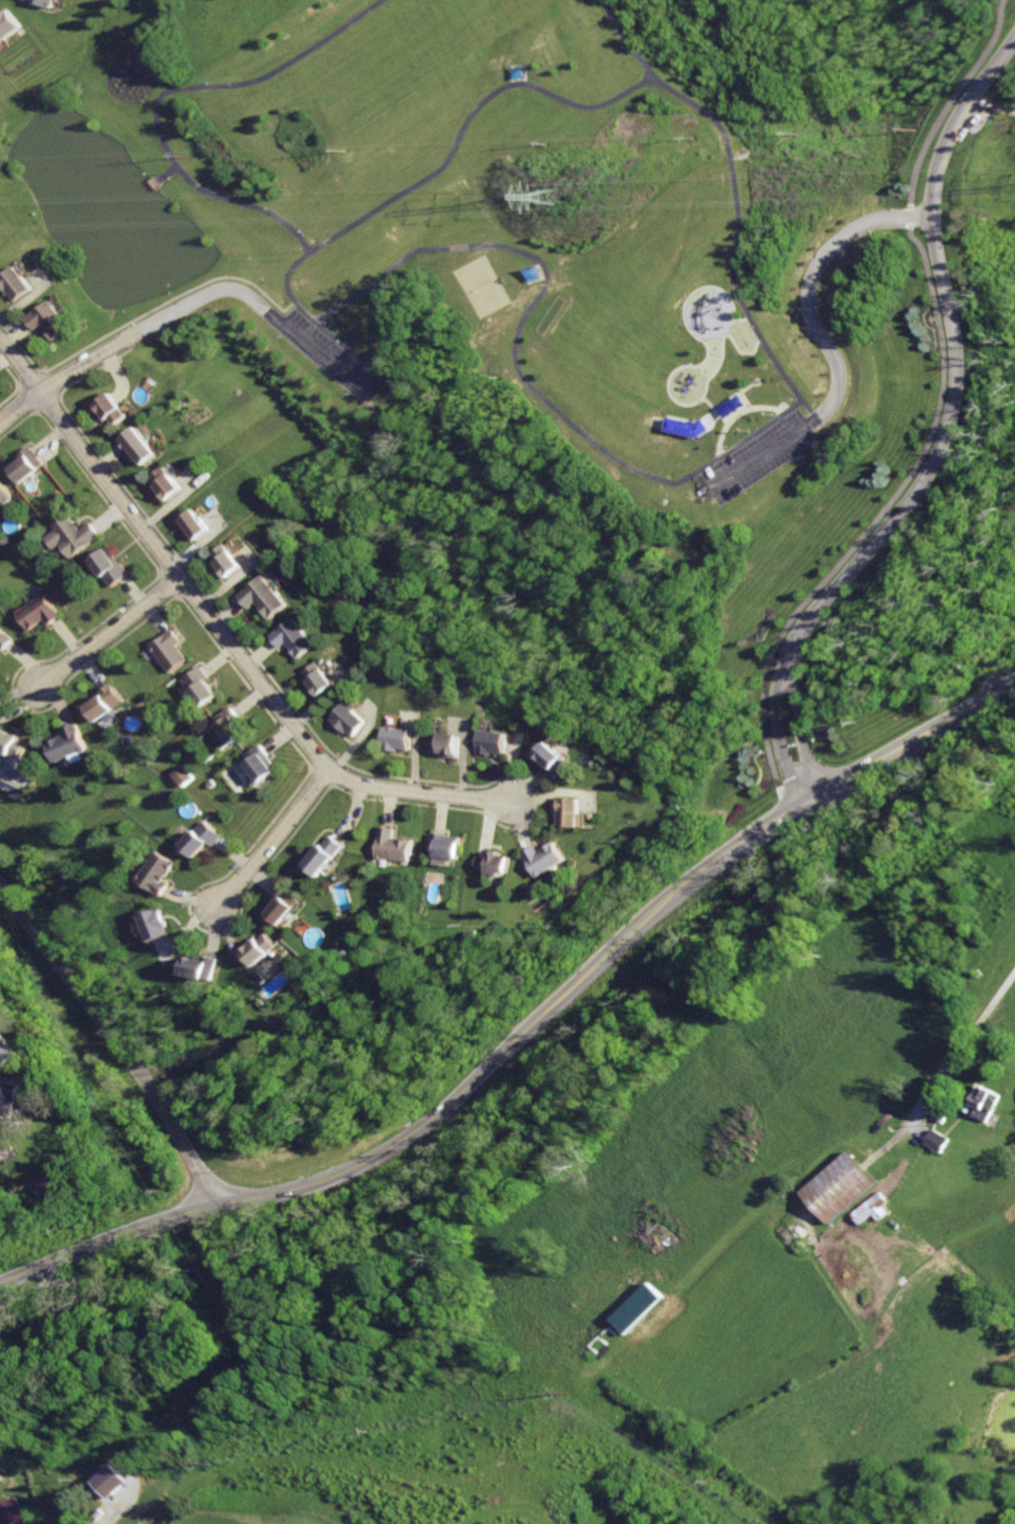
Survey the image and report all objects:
building: (46, 2)
building: (8, 26)
road: (627, 40)
road: (983, 47)
building: (515, 72)
road: (156, 93)
road: (963, 94)
road: (991, 106)
power tower: (549, 197)
building: (526, 274)
building: (17, 283)
road: (809, 285)
park: (476, 286)
road: (259, 309)
building: (51, 320)
road: (761, 340)
parking lot: (328, 353)
road: (958, 365)
road: (70, 374)
building: (728, 404)
building: (117, 408)
building: (685, 428)
building: (144, 444)
parking lot: (751, 458)
road: (918, 461)
building: (26, 465)
building: (170, 484)
building: (3, 493)
building: (200, 525)
building: (68, 535)
building: (231, 561)
building: (108, 566)
building: (268, 596)
building: (35, 613)
road: (107, 632)
road: (220, 632)
building: (295, 637)
building: (3, 642)
building: (166, 651)
building: (321, 679)
building: (198, 686)
building: (104, 703)
building: (350, 720)
road: (793, 721)
road: (777, 723)
building: (226, 729)
building: (398, 740)
building: (11, 744)
building: (65, 744)
building: (495, 744)
building: (449, 746)
building: (556, 761)
building: (256, 764)
building: (178, 775)
road: (805, 788)
road: (795, 797)
building: (571, 813)
road: (268, 839)
building: (197, 840)
building: (390, 847)
building: (442, 848)
building: (321, 856)
building: (544, 859)
building: (495, 864)
building: (155, 874)
building: (279, 907)
building: (153, 925)
building: (257, 952)
building: (200, 969)
road: (528, 1028)
road: (115, 1045)
building: (9, 1048)
road: (956, 1055)
building: (11, 1100)
building: (985, 1102)
building: (936, 1141)
road: (886, 1143)
building: (4, 1147)
building: (49, 1183)
building: (838, 1185)
building: (871, 1208)
crop: (843, 1248)
road: (31, 1292)
building: (635, 1308)
park: (451, 1470)
building: (115, 1480)
building: (11, 1510)

